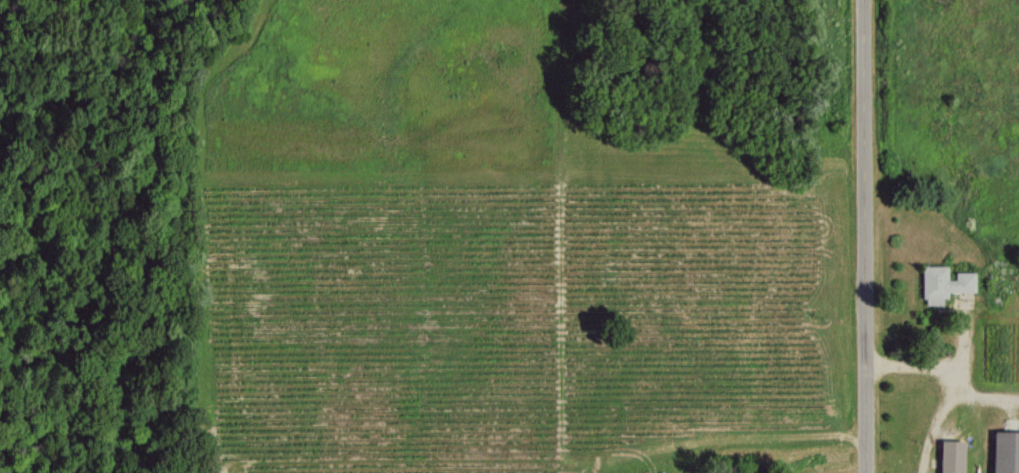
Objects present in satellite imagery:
road: (868, 236)
building: (942, 283)
road: (949, 382)
building: (1005, 451)
building: (950, 456)

